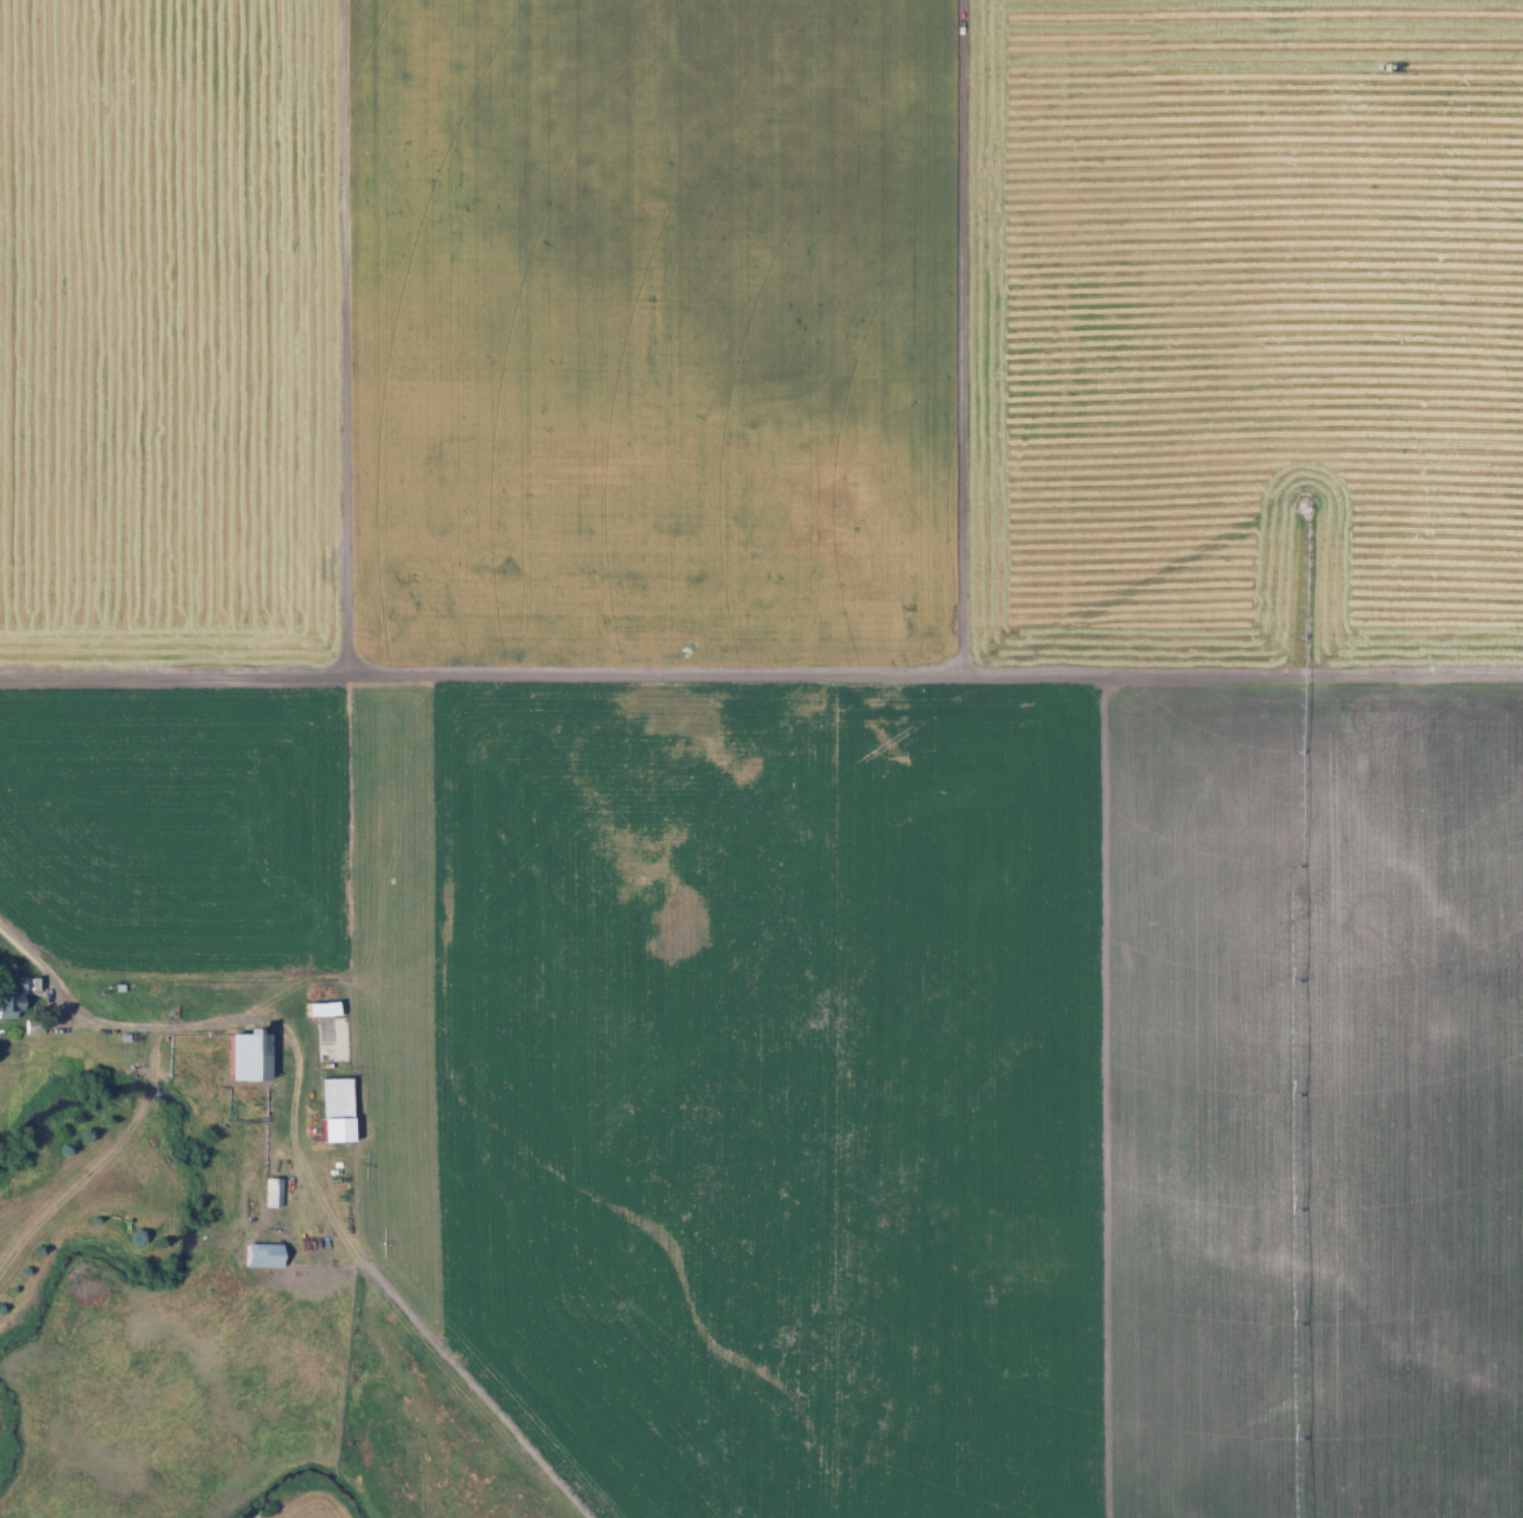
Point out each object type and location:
building: (15, 995)
road: (178, 1019)
building: (332, 1035)
building: (243, 1053)
building: (332, 1105)
building: (269, 1188)
building: (259, 1251)

